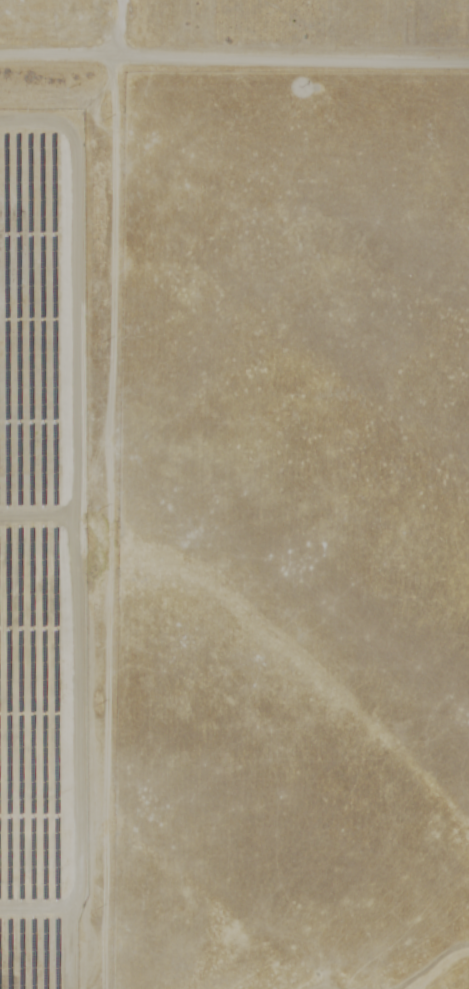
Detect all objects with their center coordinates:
road: (234, 55)
crop: (90, 427)
solar farm: (41, 555)

